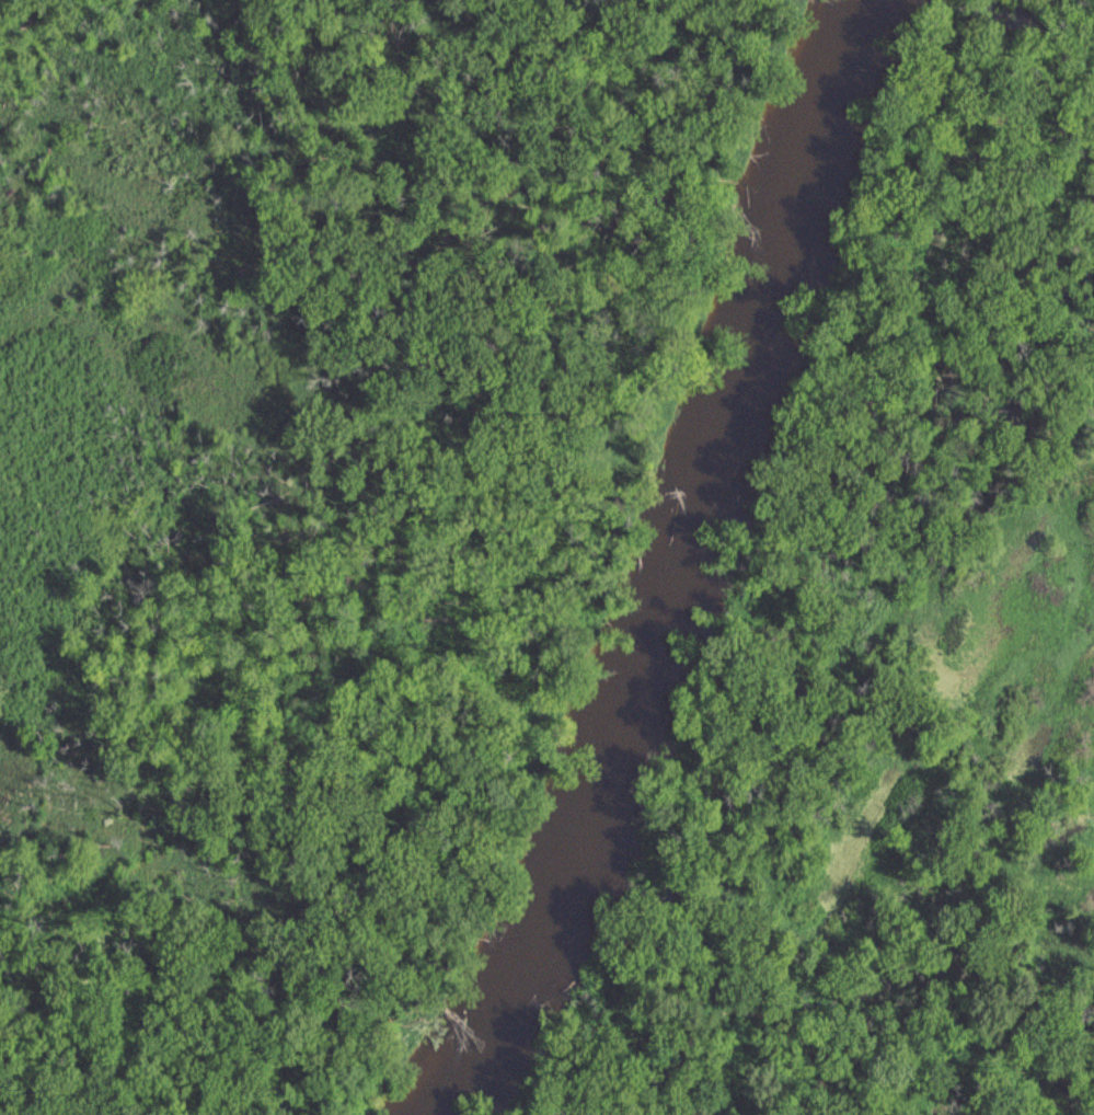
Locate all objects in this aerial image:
river: (682, 563)

